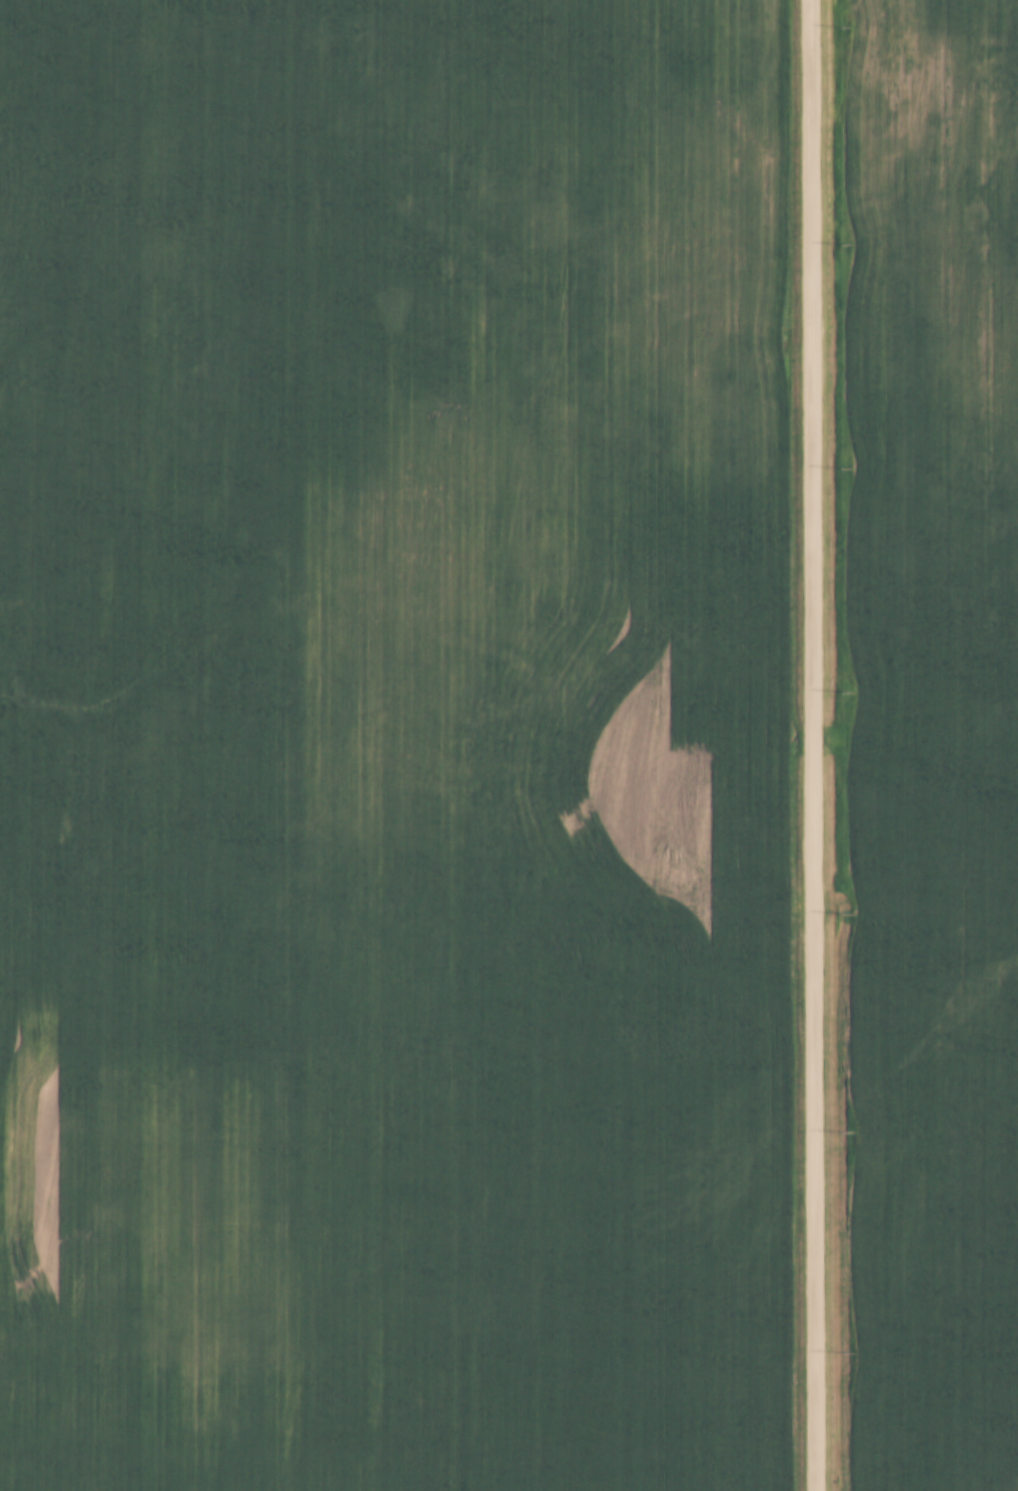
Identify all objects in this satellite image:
road: (813, 745)

